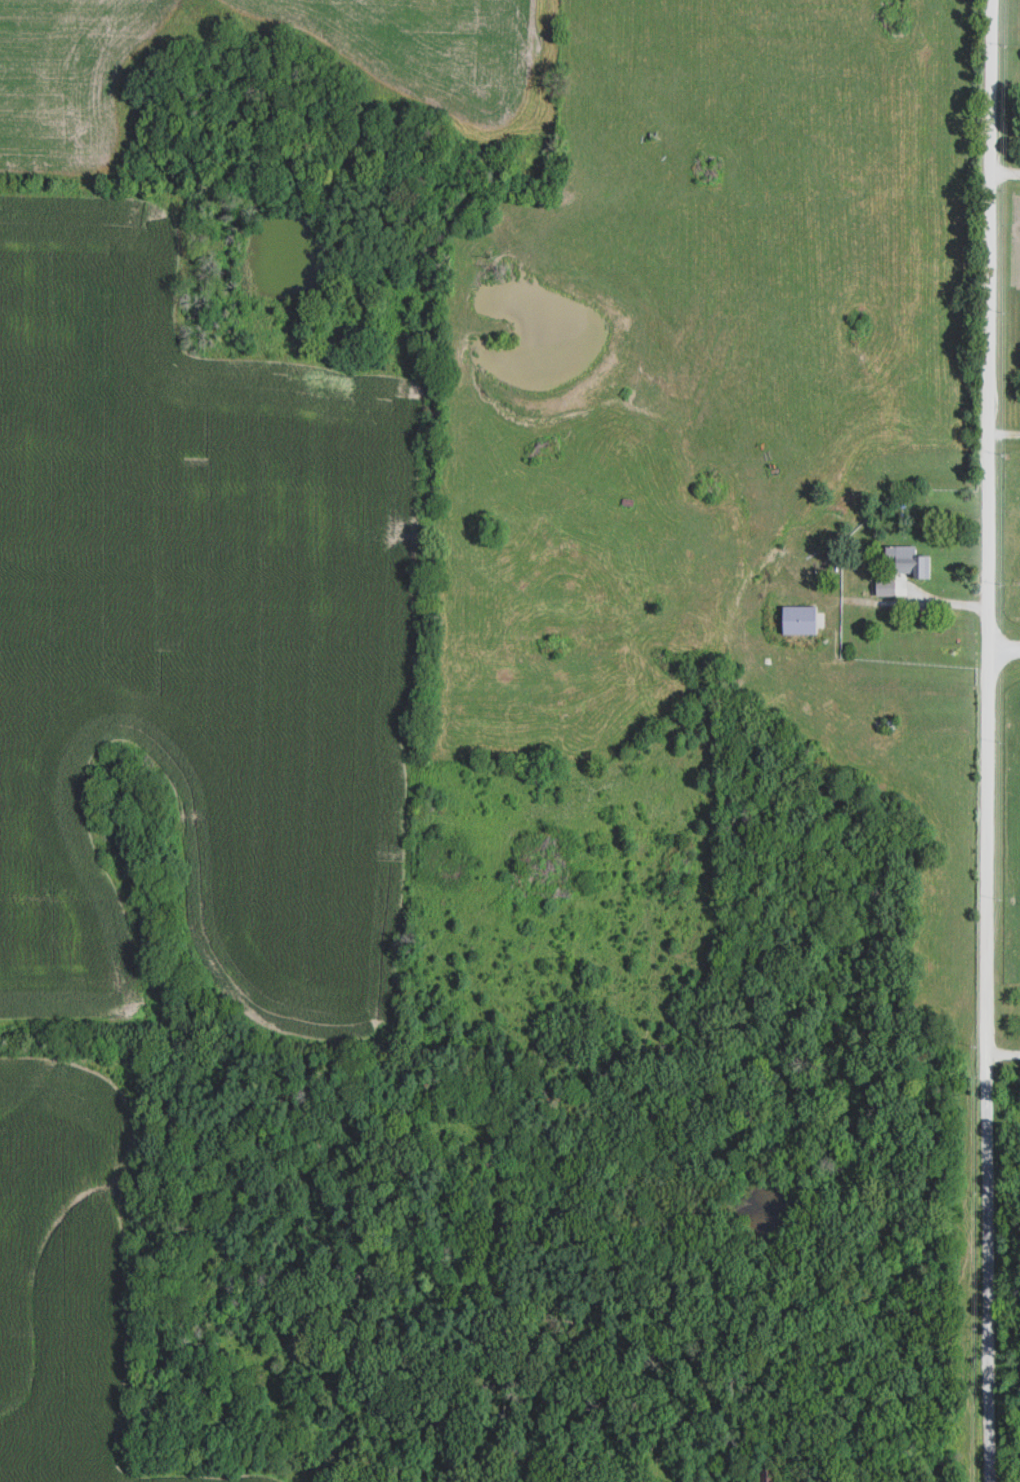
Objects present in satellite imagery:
road: (1005, 174)
building: (910, 561)
building: (884, 587)
road: (896, 597)
road: (989, 741)
road: (1003, 1056)

